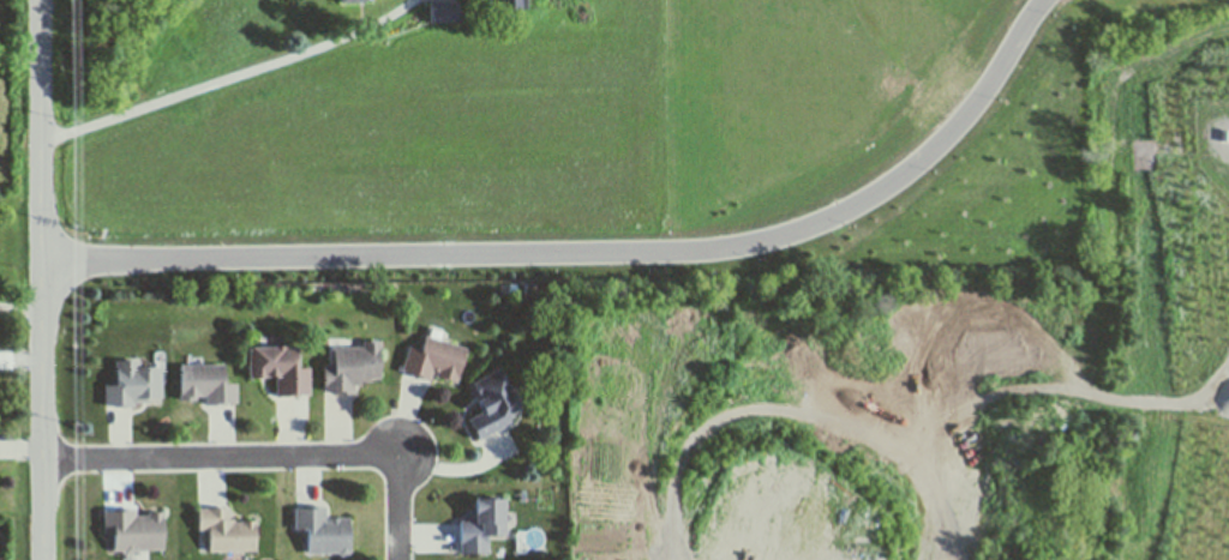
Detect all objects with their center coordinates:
building: (355, 0)
building: (504, 4)
building: (442, 11)
road: (229, 76)
road: (594, 249)
road: (43, 279)
building: (529, 288)
road: (22, 301)
building: (433, 357)
building: (160, 362)
building: (277, 366)
building: (350, 366)
landfill: (939, 375)
building: (132, 383)
building: (204, 383)
building: (518, 395)
building: (492, 404)
road: (220, 457)
road: (400, 511)
building: (484, 525)
building: (133, 529)
building: (224, 529)
building: (323, 530)

